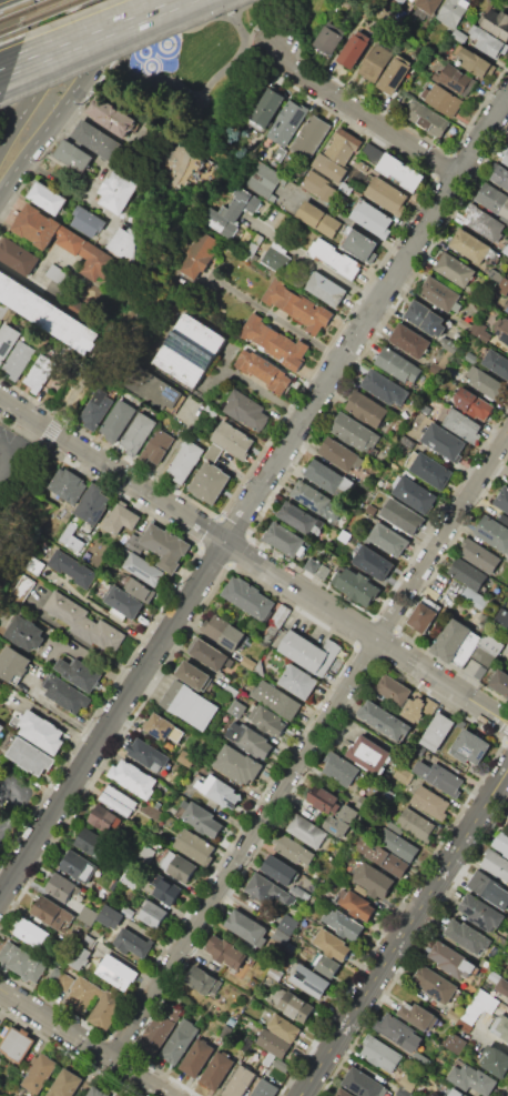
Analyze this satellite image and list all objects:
building: (400, 1)
park: (369, 2)
park: (369, 2)
road: (504, 2)
railway: (42, 3)
building: (427, 4)
railway: (50, 10)
building: (453, 11)
railway: (17, 13)
building: (399, 14)
road: (232, 17)
road: (141, 20)
building: (497, 24)
railway: (12, 26)
road: (171, 28)
road: (91, 31)
building: (459, 36)
building: (325, 41)
building: (488, 41)
parking lot: (273, 42)
road: (111, 50)
building: (352, 50)
building: (376, 62)
building: (475, 62)
road: (7, 64)
road: (44, 73)
building: (393, 74)
building: (455, 79)
park: (207, 80)
road: (145, 83)
building: (404, 90)
road: (1, 98)
road: (65, 98)
building: (441, 99)
building: (267, 107)
road: (74, 109)
road: (379, 109)
road: (360, 113)
building: (111, 115)
building: (427, 118)
building: (287, 122)
building: (308, 138)
building: (98, 141)
building: (281, 152)
building: (372, 152)
building: (337, 154)
building: (506, 154)
building: (73, 155)
building: (360, 165)
building: (400, 171)
building: (501, 177)
building: (262, 179)
park: (170, 183)
building: (318, 185)
building: (345, 188)
building: (116, 190)
building: (386, 195)
building: (47, 198)
building: (494, 200)
building: (233, 211)
road: (341, 217)
building: (318, 219)
building: (372, 219)
building: (87, 221)
building: (482, 221)
building: (37, 227)
building: (123, 243)
building: (254, 244)
building: (360, 244)
building: (470, 244)
building: (506, 249)
building: (85, 253)
building: (200, 254)
building: (18, 257)
building: (276, 258)
building: (335, 258)
road: (314, 263)
building: (455, 270)
building: (58, 274)
building: (495, 275)
building: (502, 285)
building: (325, 289)
building: (439, 293)
road: (151, 298)
building: (296, 305)
building: (506, 308)
building: (2, 310)
building: (47, 313)
road: (274, 316)
building: (425, 318)
building: (464, 324)
building: (501, 329)
building: (7, 340)
building: (409, 340)
building: (274, 341)
building: (450, 345)
building: (190, 350)
road: (322, 354)
building: (471, 358)
building: (18, 360)
building: (496, 362)
building: (397, 365)
building: (263, 370)
building: (39, 372)
building: (487, 383)
building: (384, 386)
building: (153, 388)
road: (264, 392)
building: (126, 393)
building: (473, 403)
building: (365, 409)
building: (95, 410)
building: (245, 410)
building: (118, 421)
building: (463, 425)
building: (354, 433)
building: (139, 434)
building: (232, 440)
building: (444, 442)
building: (158, 446)
road: (8, 451)
road: (18, 451)
building: (213, 452)
building: (339, 454)
parking lot: (11, 456)
building: (185, 460)
building: (430, 471)
building: (324, 475)
building: (210, 482)
building: (70, 487)
building: (414, 494)
road: (254, 497)
building: (502, 499)
building: (316, 500)
building: (93, 503)
building: (370, 510)
building: (402, 516)
building: (299, 517)
building: (121, 519)
building: (502, 520)
building: (494, 533)
building: (70, 536)
building: (387, 539)
building: (283, 540)
building: (345, 540)
building: (161, 546)
building: (479, 555)
road: (254, 557)
building: (372, 561)
building: (35, 565)
building: (72, 567)
building: (144, 569)
building: (317, 569)
building: (468, 574)
building: (358, 586)
building: (22, 590)
building: (140, 590)
building: (247, 597)
building: (475, 599)
building: (123, 603)
building: (281, 614)
building: (423, 617)
building: (501, 617)
building: (84, 622)
building: (222, 631)
building: (24, 632)
road: (77, 636)
building: (450, 640)
building: (491, 644)
building: (467, 648)
building: (311, 652)
road: (84, 656)
building: (212, 656)
building: (507, 656)
building: (12, 663)
building: (248, 663)
building: (78, 673)
building: (194, 675)
building: (297, 682)
building: (0, 683)
building: (499, 683)
building: (394, 690)
building: (232, 691)
building: (65, 694)
building: (276, 698)
building: (190, 704)
building: (236, 708)
road: (64, 717)
building: (267, 721)
building: (384, 721)
road: (59, 724)
building: (1, 727)
building: (163, 727)
building: (40, 732)
building: (436, 732)
building: (248, 740)
road: (309, 747)
building: (469, 747)
building: (149, 754)
building: (368, 754)
building: (29, 756)
building: (186, 758)
building: (237, 765)
building: (339, 768)
building: (404, 774)
building: (133, 777)
building: (439, 777)
building: (219, 791)
road: (17, 798)
building: (324, 798)
building: (118, 800)
building: (430, 802)
parking lot: (11, 804)
building: (150, 811)
building: (308, 811)
building: (105, 818)
building: (201, 818)
building: (339, 821)
building: (507, 824)
building: (415, 825)
building: (352, 826)
building: (306, 831)
building: (92, 843)
building: (502, 843)
building: (397, 844)
building: (193, 846)
building: (294, 851)
building: (383, 856)
building: (167, 861)
building: (495, 864)
building: (138, 865)
building: (78, 866)
building: (182, 868)
building: (280, 869)
building: (373, 881)
road: (4, 883)
building: (482, 884)
building: (64, 889)
building: (167, 892)
building: (267, 893)
building: (301, 895)
building: (355, 904)
building: (51, 912)
building: (126, 912)
building: (480, 912)
building: (84, 914)
building: (153, 914)
building: (110, 916)
building: (91, 917)
building: (288, 924)
building: (343, 924)
building: (246, 926)
building: (33, 932)
road: (405, 934)
building: (467, 936)
building: (281, 937)
building: (88, 941)
building: (131, 943)
building: (332, 944)
building: (289, 947)
building: (227, 952)
building: (78, 956)
building: (451, 961)
building: (21, 962)
building: (327, 966)
building: (115, 972)
building: (275, 973)
building: (494, 976)
building: (61, 977)
building: (202, 981)
building: (312, 982)
building: (434, 984)
building: (502, 986)
building: (92, 1004)
building: (293, 1004)
building: (479, 1006)
building: (174, 1013)
building: (419, 1015)
building: (454, 1015)
building: (283, 1027)
building: (501, 1027)
building: (398, 1032)
building: (155, 1034)
road: (476, 1035)
road: (83, 1042)
building: (180, 1042)
road: (492, 1042)
building: (17, 1044)
building: (246, 1044)
building: (274, 1044)
building: (455, 1044)
building: (380, 1053)
building: (196, 1057)
building: (268, 1058)
building: (421, 1060)
building: (495, 1060)
building: (281, 1065)
building: (216, 1070)
building: (39, 1073)
building: (471, 1078)
building: (238, 1082)
building: (408, 1083)
building: (65, 1084)
building: (363, 1084)
building: (265, 1088)
building: (404, 1092)
building: (95, 1093)
building: (343, 1093)
building: (457, 1093)
building: (433, 1095)

